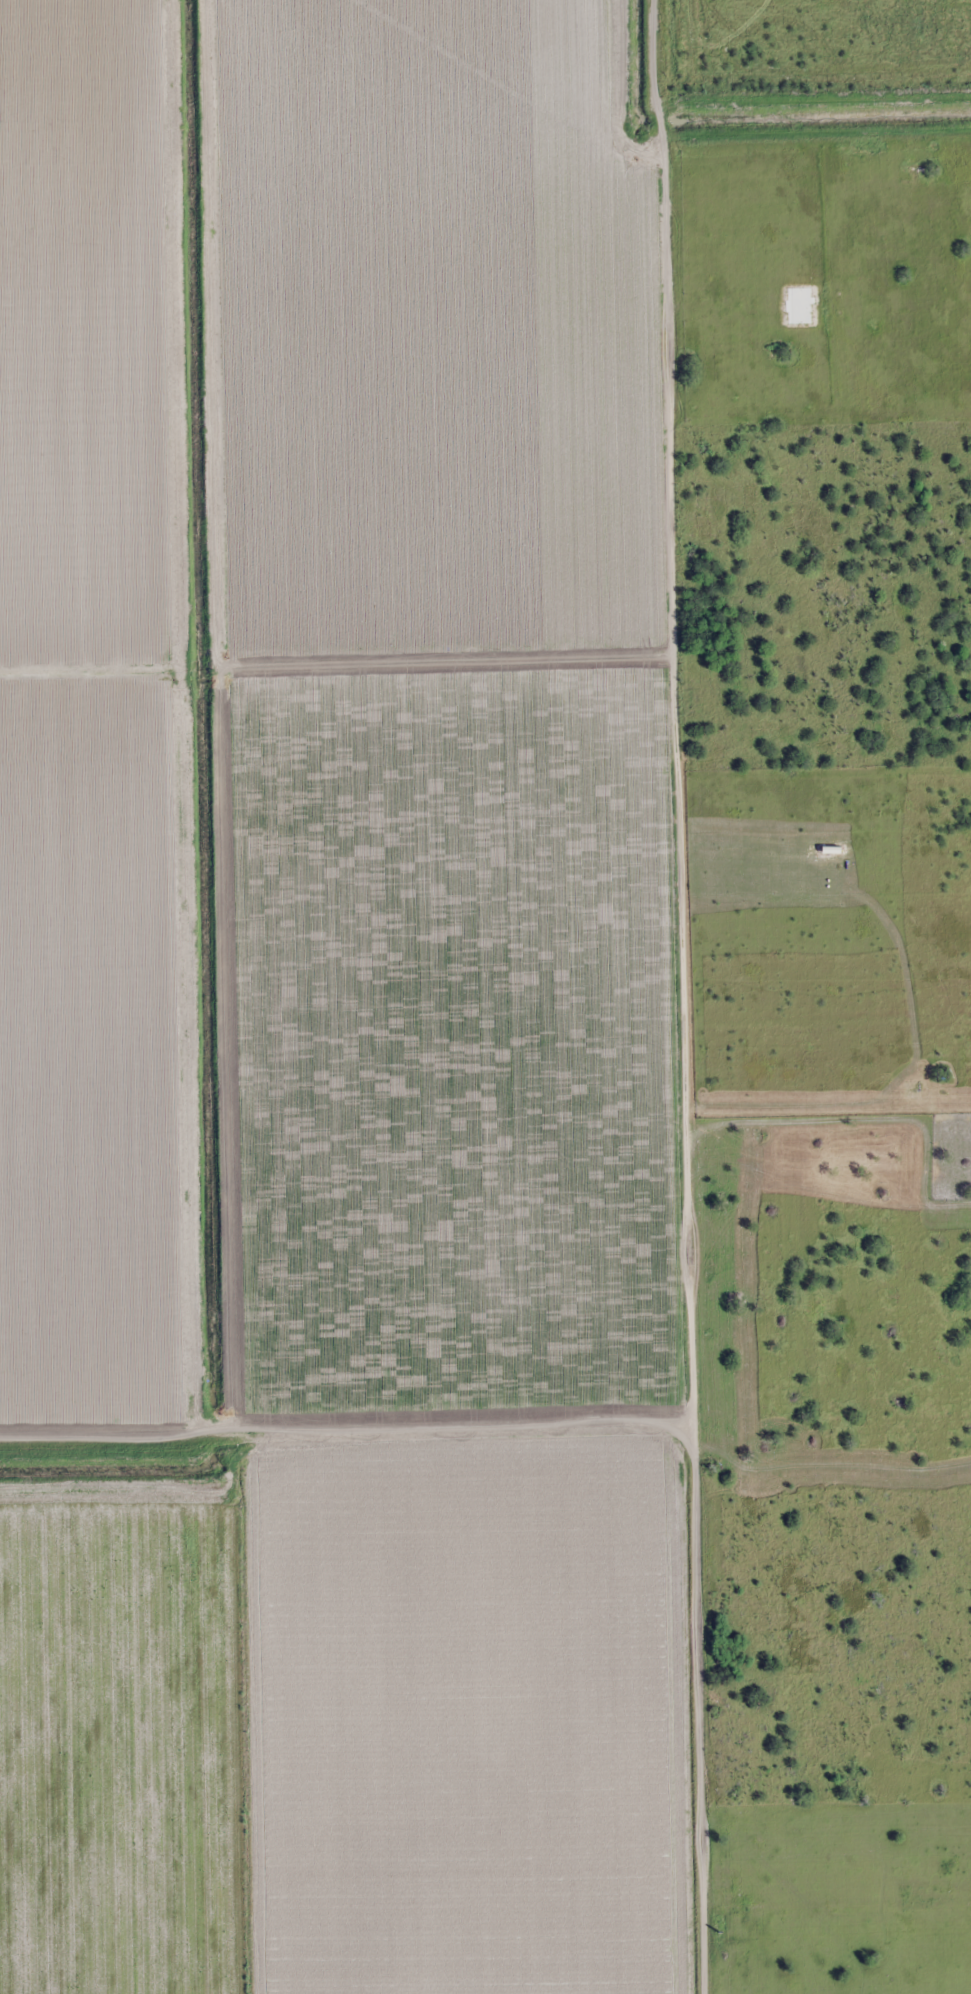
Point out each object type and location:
road: (650, 54)
road: (658, 122)
building: (886, 478)
road: (678, 780)
road: (347, 1420)
road: (700, 1709)

